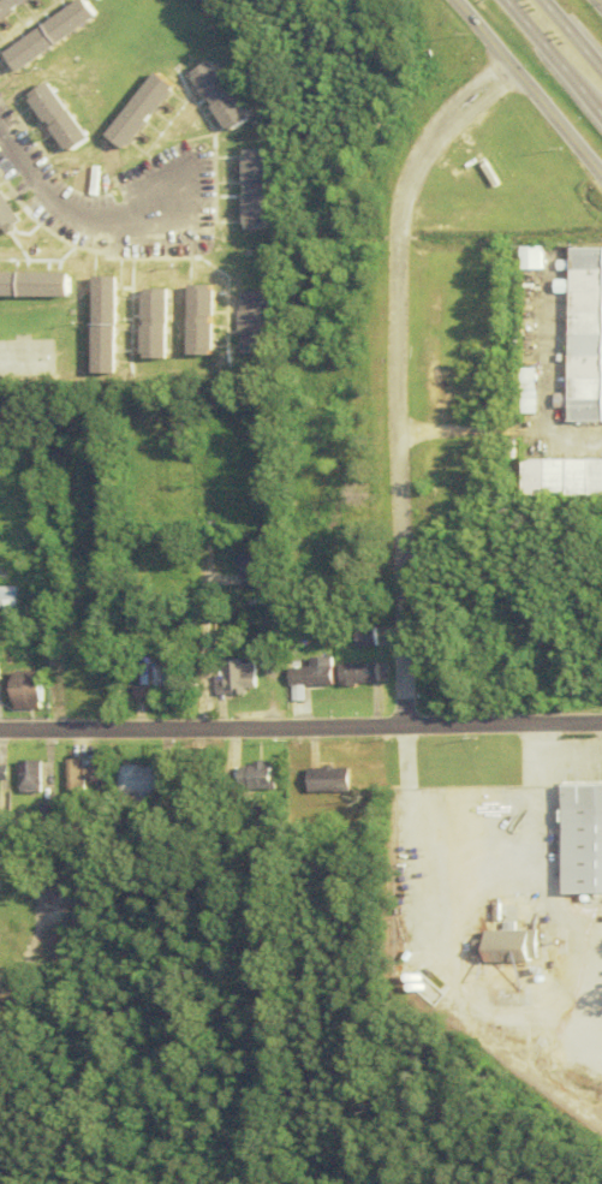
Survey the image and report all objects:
building: (8, 6)
road: (594, 8)
building: (47, 35)
road: (566, 41)
road: (548, 64)
road: (523, 95)
building: (213, 96)
building: (135, 111)
building: (53, 118)
building: (248, 190)
building: (2, 215)
road: (65, 218)
building: (519, 257)
building: (31, 285)
building: (193, 320)
building: (244, 322)
building: (148, 323)
building: (97, 325)
building: (582, 337)
road: (386, 374)
building: (520, 391)
road: (495, 434)
building: (560, 477)
building: (244, 570)
building: (5, 597)
road: (192, 637)
building: (305, 673)
building: (353, 673)
building: (225, 676)
building: (143, 679)
building: (20, 690)
road: (300, 726)
road: (572, 756)
building: (74, 773)
building: (20, 777)
building: (246, 777)
building: (321, 780)
building: (129, 783)
road: (467, 810)
building: (35, 814)
building: (578, 838)
building: (505, 946)

